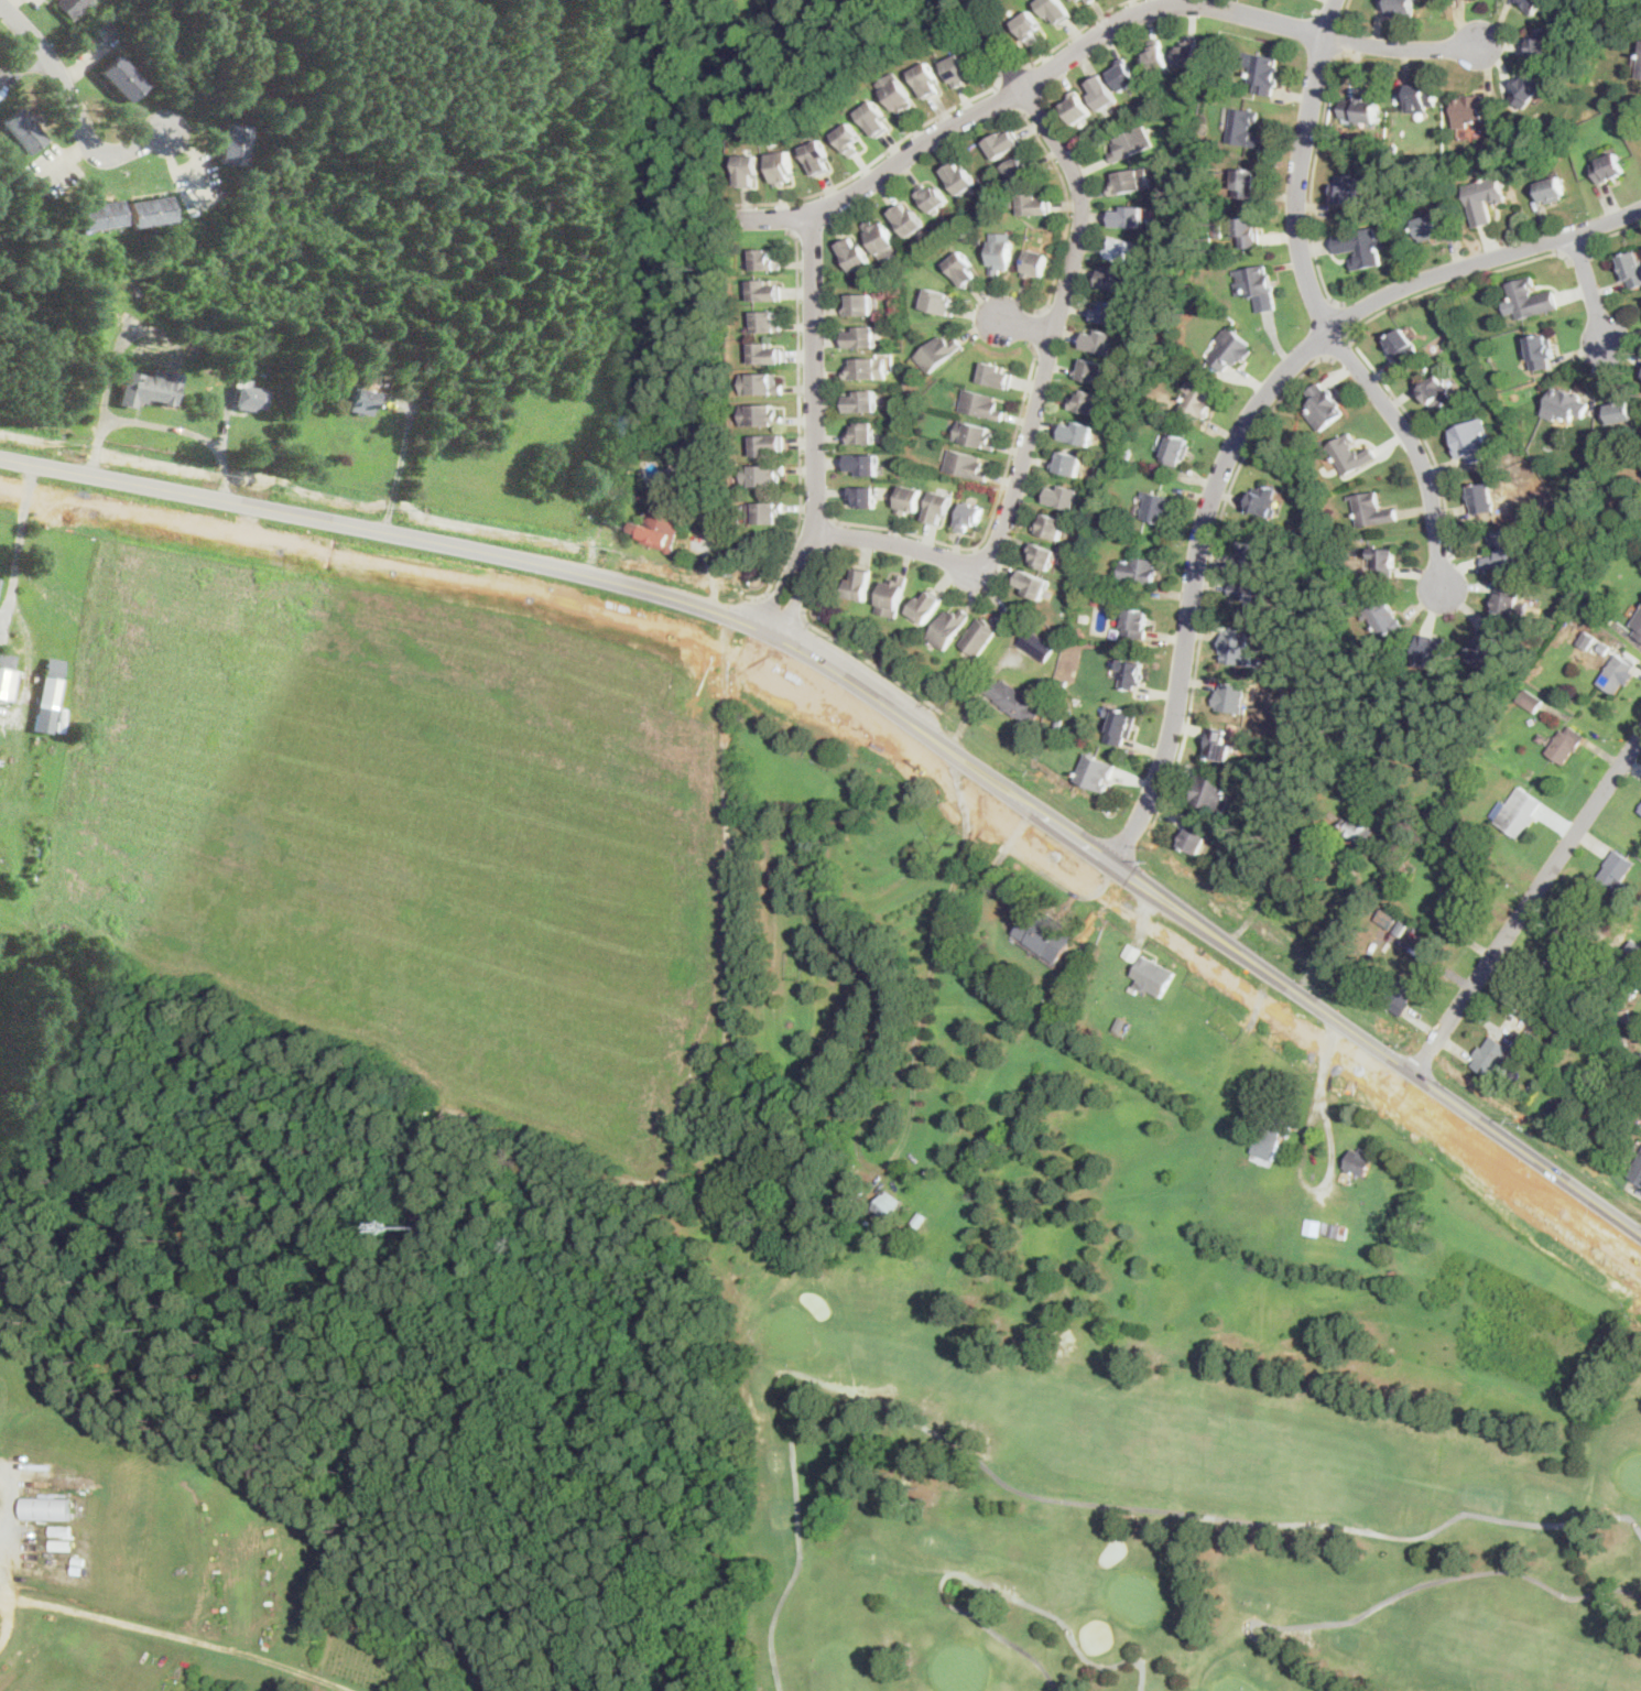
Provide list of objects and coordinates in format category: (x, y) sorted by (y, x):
building: (1072, 0)
building: (1074, 0)
building: (1079, 0)
building: (1090, 1)
parking lot: (34, 2)
road: (7, 3)
building: (1533, 4)
building: (72, 7)
building: (1402, 8)
building: (1055, 10)
road: (1344, 11)
building: (1029, 26)
road: (1074, 31)
road: (1343, 35)
road: (1089, 39)
building: (1543, 43)
building: (1187, 54)
building: (1156, 58)
road: (19, 62)
building: (958, 69)
road: (1012, 69)
building: (1640, 69)
building: (1263, 72)
building: (1123, 74)
building: (121, 77)
building: (927, 80)
building: (1528, 89)
building: (1102, 91)
building: (898, 94)
building: (1421, 96)
road: (1002, 97)
road: (75, 107)
building: (1077, 107)
building: (1362, 108)
building: (1471, 109)
building: (874, 118)
building: (1245, 128)
building: (21, 130)
building: (849, 138)
building: (233, 143)
building: (1132, 143)
building: (1002, 144)
building: (817, 158)
road: (874, 158)
road: (57, 159)
road: (1301, 164)
building: (782, 166)
building: (1608, 167)
building: (1021, 169)
parking lot: (50, 170)
road: (183, 170)
building: (748, 170)
road: (1312, 171)
building: (959, 177)
building: (1130, 181)
parking lot: (197, 182)
building: (1246, 183)
building: (1350, 187)
building: (1548, 189)
building: (932, 197)
building: (1484, 197)
road: (1067, 203)
building: (1032, 204)
building: (149, 210)
building: (98, 215)
road: (784, 215)
building: (1128, 215)
building: (908, 219)
building: (1430, 227)
building: (1217, 229)
building: (1248, 231)
road: (1609, 231)
building: (881, 239)
building: (1362, 247)
building: (1121, 248)
building: (1001, 251)
road: (1578, 252)
building: (854, 254)
building: (764, 260)
building: (1035, 263)
building: (961, 268)
building: (1630, 268)
building: (1115, 279)
road: (1456, 280)
building: (1257, 285)
road: (1590, 290)
building: (764, 291)
building: (1531, 299)
building: (939, 302)
building: (858, 305)
building: (1107, 312)
road: (1346, 317)
building: (768, 322)
road: (1023, 323)
road: (1034, 327)
building: (861, 337)
building: (1099, 340)
building: (1403, 346)
building: (204, 348)
building: (1230, 349)
road: (1343, 349)
building: (1541, 351)
building: (937, 353)
building: (765, 354)
road: (1045, 358)
building: (430, 362)
building: (868, 369)
building: (1090, 369)
building: (996, 375)
building: (760, 383)
building: (150, 386)
building: (1437, 392)
building: (251, 397)
building: (1198, 398)
building: (361, 400)
building: (861, 401)
building: (1085, 402)
building: (459, 404)
building: (981, 404)
building: (1324, 404)
building: (1566, 404)
building: (1619, 412)
road: (798, 414)
building: (761, 415)
road: (1250, 416)
building: (619, 426)
building: (1077, 432)
building: (861, 433)
building: (976, 434)
road: (1423, 434)
building: (1470, 440)
building: (661, 442)
road: (815, 443)
building: (768, 444)
road: (1413, 448)
building: (1176, 449)
building: (1128, 453)
building: (1350, 454)
building: (862, 464)
building: (1067, 464)
road: (400, 465)
building: (967, 465)
building: (1583, 473)
building: (762, 475)
building: (863, 495)
building: (1063, 496)
building: (1482, 498)
building: (909, 499)
building: (1265, 499)
road: (382, 506)
building: (938, 507)
building: (1158, 507)
road: (813, 508)
building: (1372, 509)
building: (769, 512)
building: (969, 517)
road: (990, 518)
building: (1051, 525)
building: (659, 529)
building: (1604, 533)
building: (1503, 549)
building: (1250, 550)
building: (1564, 553)
road: (17, 554)
building: (1042, 554)
building: (1382, 561)
building: (1576, 570)
building: (1139, 571)
building: (1032, 583)
building: (859, 585)
road: (1208, 585)
building: (892, 596)
building: (1508, 599)
building: (1251, 601)
road: (781, 605)
building: (925, 606)
building: (1600, 611)
building: (1086, 617)
building: (1383, 618)
building: (1135, 624)
building: (1638, 626)
building: (948, 628)
building: (1601, 633)
building: (981, 635)
building: (1610, 638)
building: (1586, 639)
building: (1037, 646)
building: (1604, 648)
building: (1486, 649)
building: (1238, 650)
building: (1430, 651)
building: (1130, 672)
building: (1617, 672)
building: (7, 675)
building: (1050, 676)
building: (1044, 683)
building: (48, 695)
road: (885, 697)
building: (1230, 698)
building: (1013, 700)
building: (1427, 700)
building: (1530, 701)
road: (953, 717)
building: (1058, 724)
building: (1121, 726)
building: (1248, 728)
road: (889, 734)
building: (1541, 737)
building: (1566, 744)
building: (1218, 745)
building: (1498, 747)
road: (889, 754)
building: (1326, 768)
building: (1096, 772)
building: (1210, 793)
building: (1453, 810)
building: (1640, 810)
building: (1518, 811)
building: (1359, 831)
road: (1128, 833)
building: (1196, 836)
building: (1403, 868)
building: (1611, 877)
road: (1282, 879)
building: (1032, 881)
building: (1392, 884)
road: (1529, 900)
building: (1459, 912)
building: (1387, 918)
building: (1091, 919)
building: (1401, 926)
building: (1046, 934)
road: (1278, 943)
building: (1132, 951)
building: (1568, 953)
building: (1153, 975)
building: (1133, 988)
building: (1401, 994)
building: (1628, 1017)
building: (1121, 1023)
building: (1550, 1045)
building: (1524, 1049)
road: (1428, 1054)
road: (915, 1056)
building: (1490, 1056)
building: (1583, 1075)
building: (1563, 1094)
building: (1554, 1110)
road: (1542, 1136)
building: (1272, 1137)
building: (1359, 1162)
road: (1332, 1169)
building: (1637, 1171)
building: (858, 1190)
building: (840, 1202)
building: (887, 1206)
building: (420, 1215)
building: (920, 1217)
building: (1313, 1226)
building: (1335, 1231)
building: (1388, 1240)
crop: (281, 1479)
building: (52, 1507)
park: (1150, 1507)
road: (8, 1526)
building: (64, 1529)
building: (64, 1543)
building: (81, 1559)
building: (79, 1568)
road: (21, 1597)
road: (200, 1640)
building: (120, 1646)

